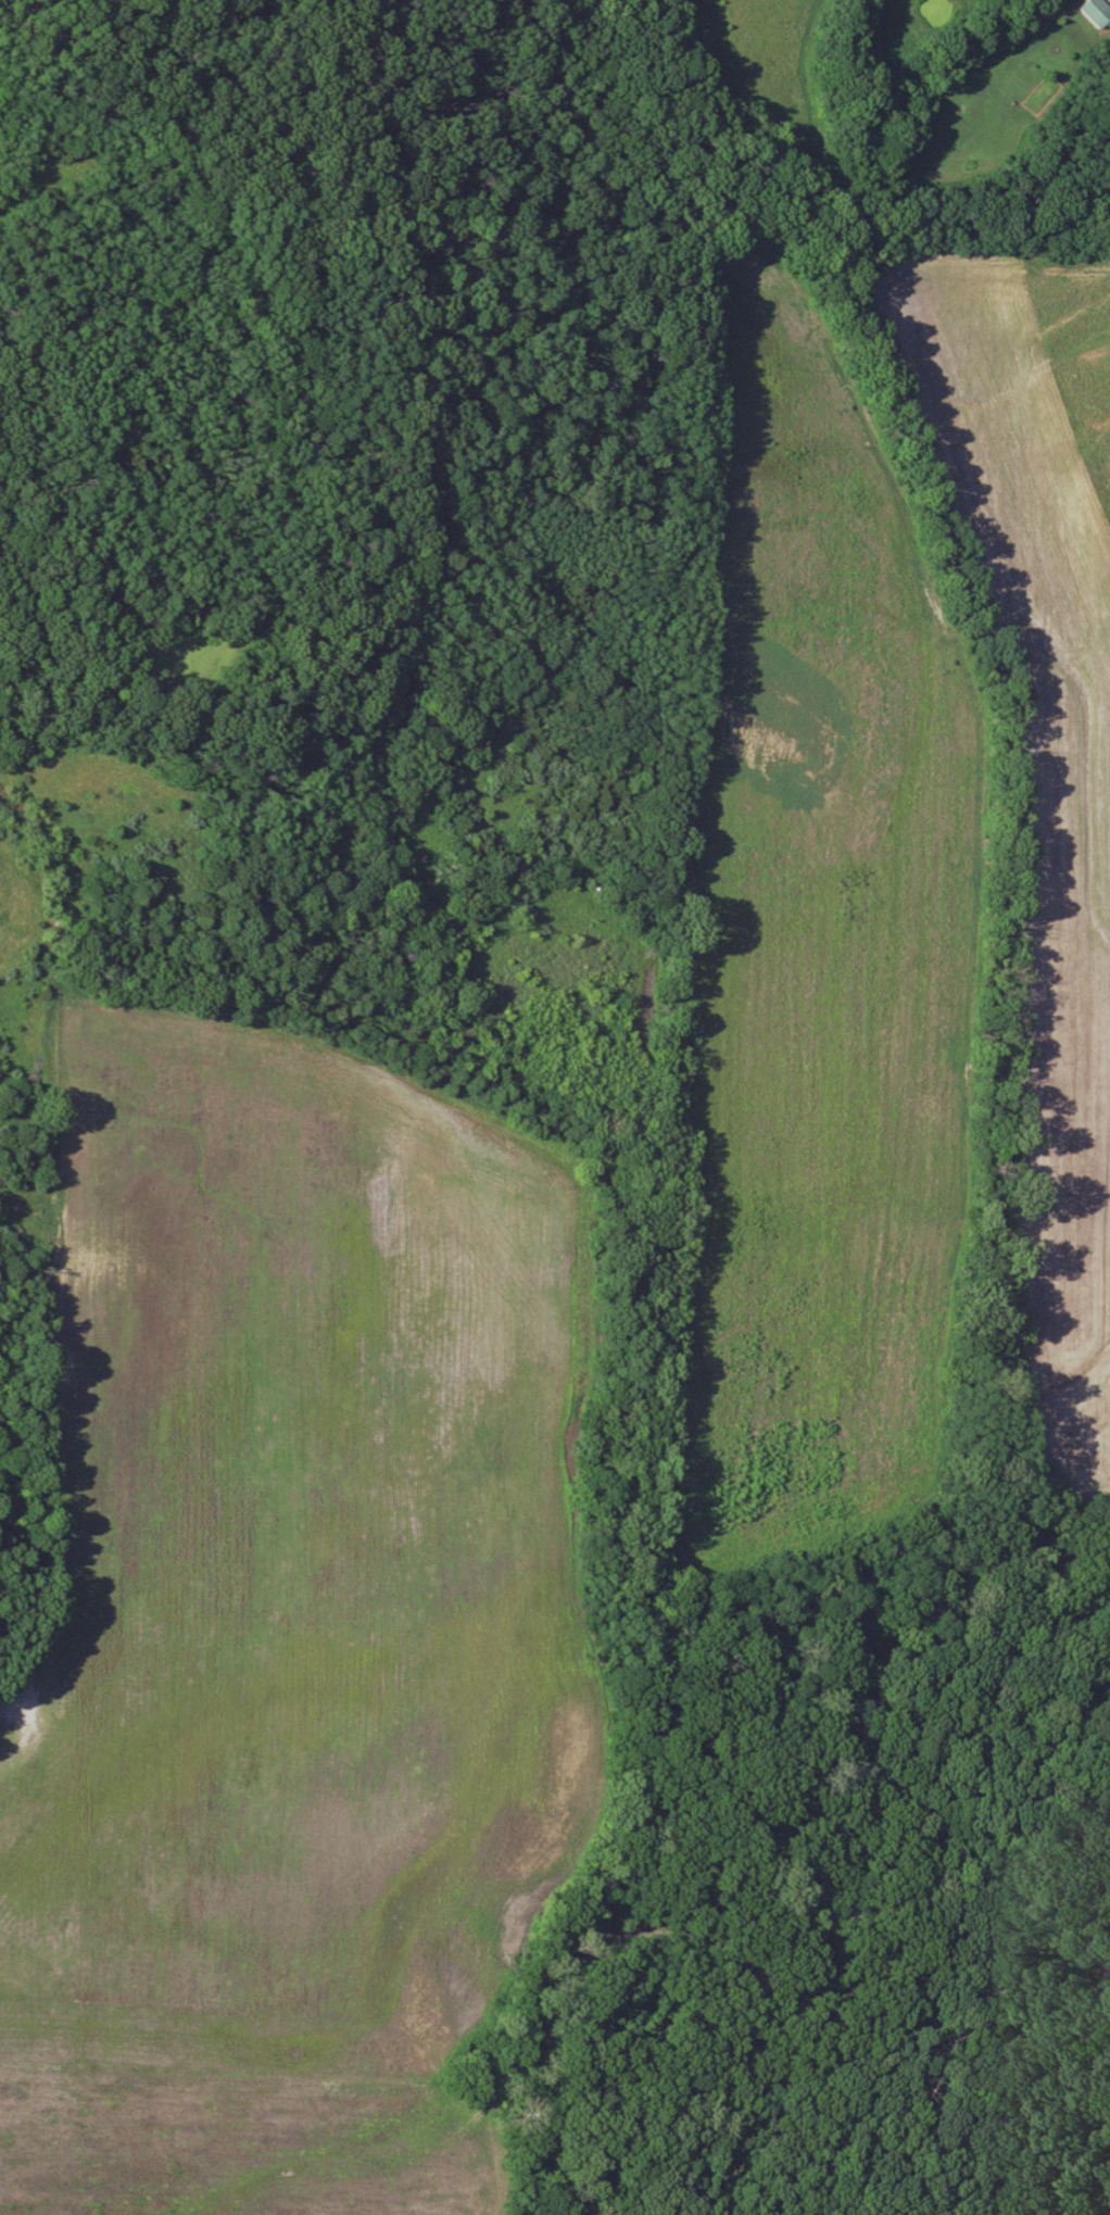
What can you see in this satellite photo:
building: (1096, 13)

